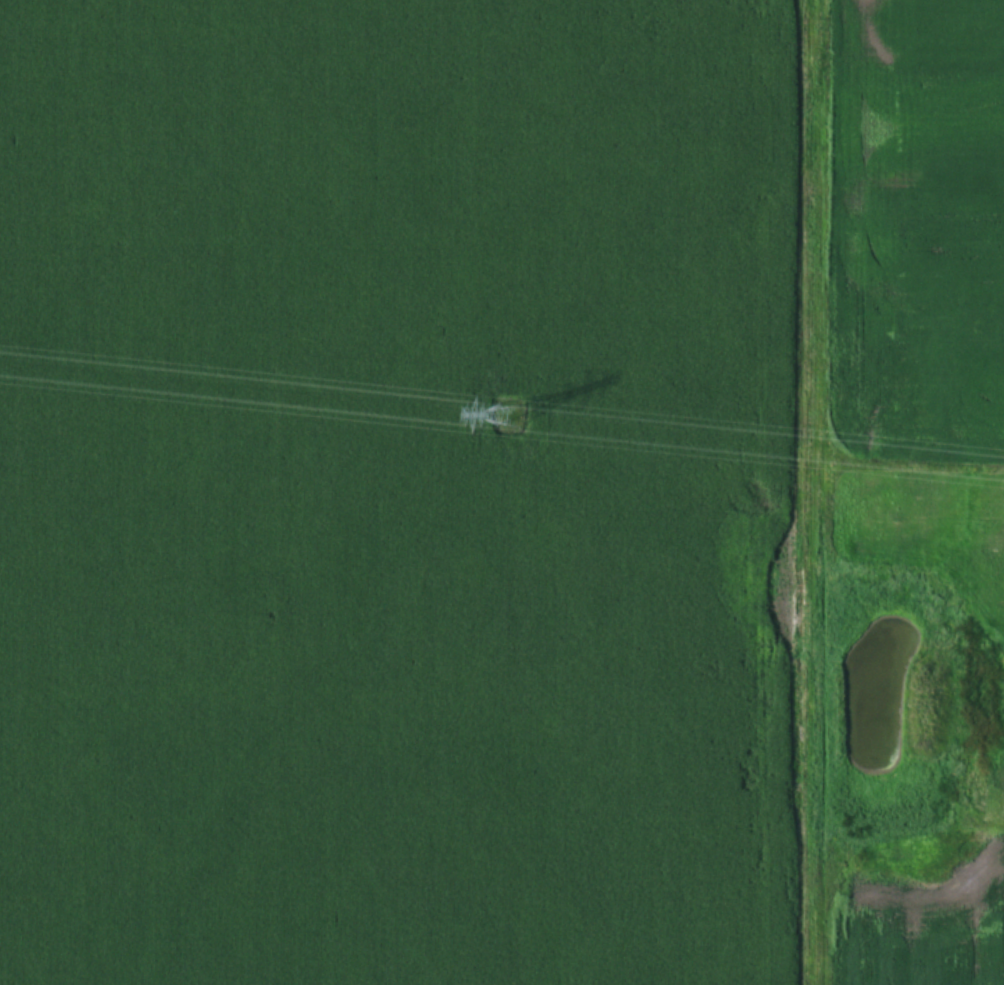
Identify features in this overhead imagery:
power tower: (509, 413)
road: (815, 492)

